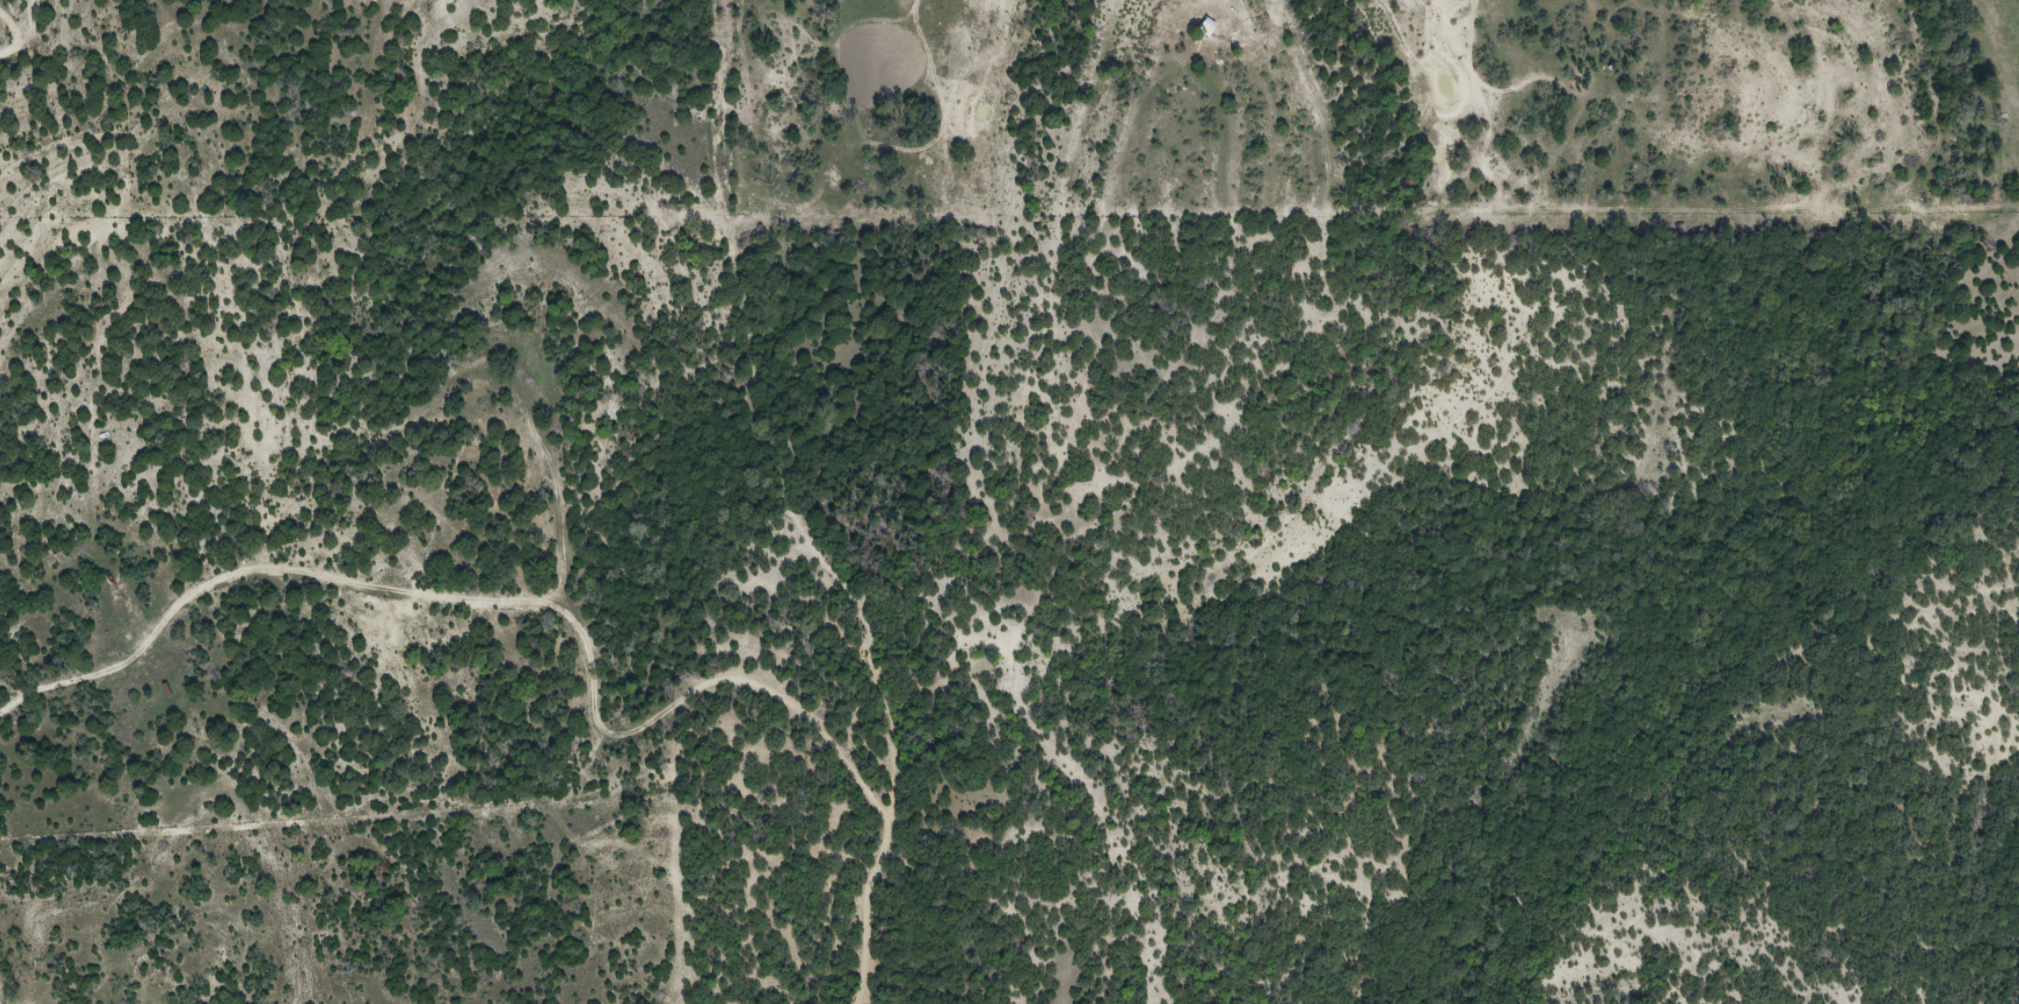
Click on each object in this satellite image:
road: (540, 356)
road: (341, 553)
road: (471, 744)
road: (862, 788)
road: (740, 822)

